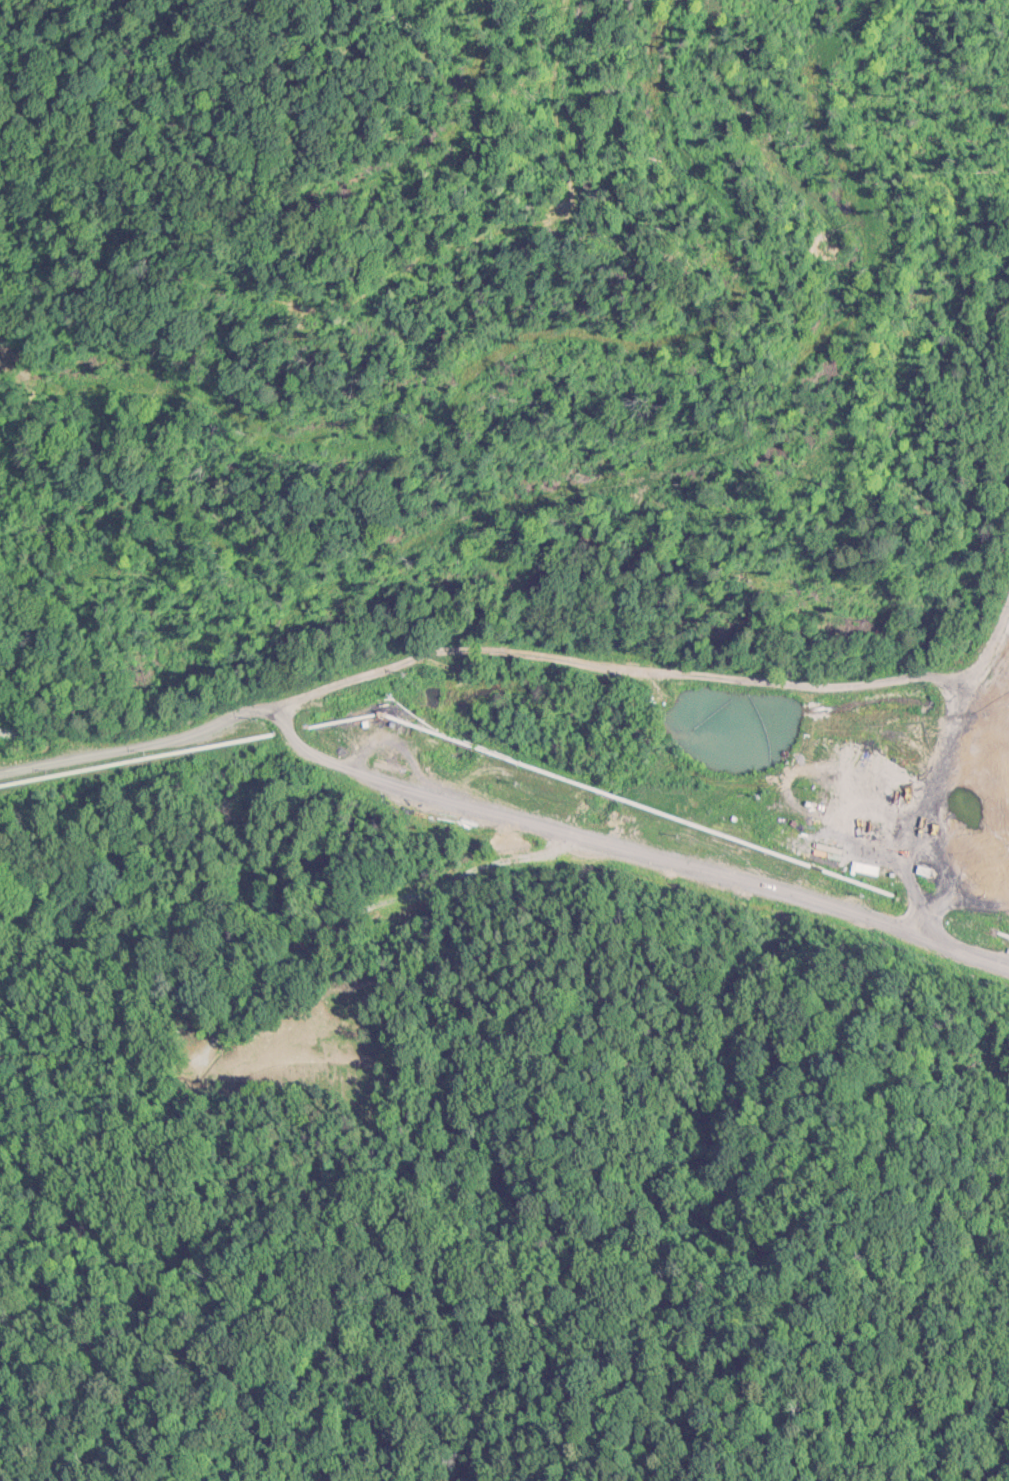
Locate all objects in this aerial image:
quarry: (640, 756)

